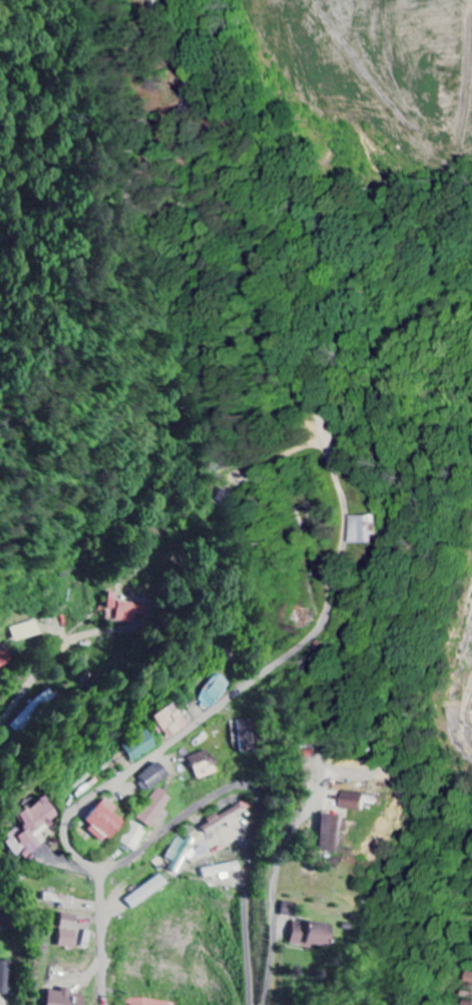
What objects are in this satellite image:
road: (168, 129)
road: (273, 375)
building: (225, 496)
building: (366, 530)
building: (112, 606)
building: (127, 613)
building: (28, 631)
building: (6, 658)
road: (30, 682)
building: (214, 692)
building: (34, 711)
building: (171, 721)
road: (199, 721)
building: (246, 736)
building: (140, 747)
building: (203, 765)
building: (153, 777)
building: (358, 802)
road: (263, 807)
building: (153, 809)
building: (226, 819)
building: (104, 821)
building: (31, 829)
building: (334, 834)
building: (132, 837)
building: (181, 854)
building: (222, 871)
building: (146, 892)
building: (60, 900)
road: (273, 900)
building: (289, 910)
building: (2, 924)
building: (69, 931)
building: (312, 935)
road: (101, 936)
building: (6, 978)
building: (65, 998)
building: (147, 1003)

